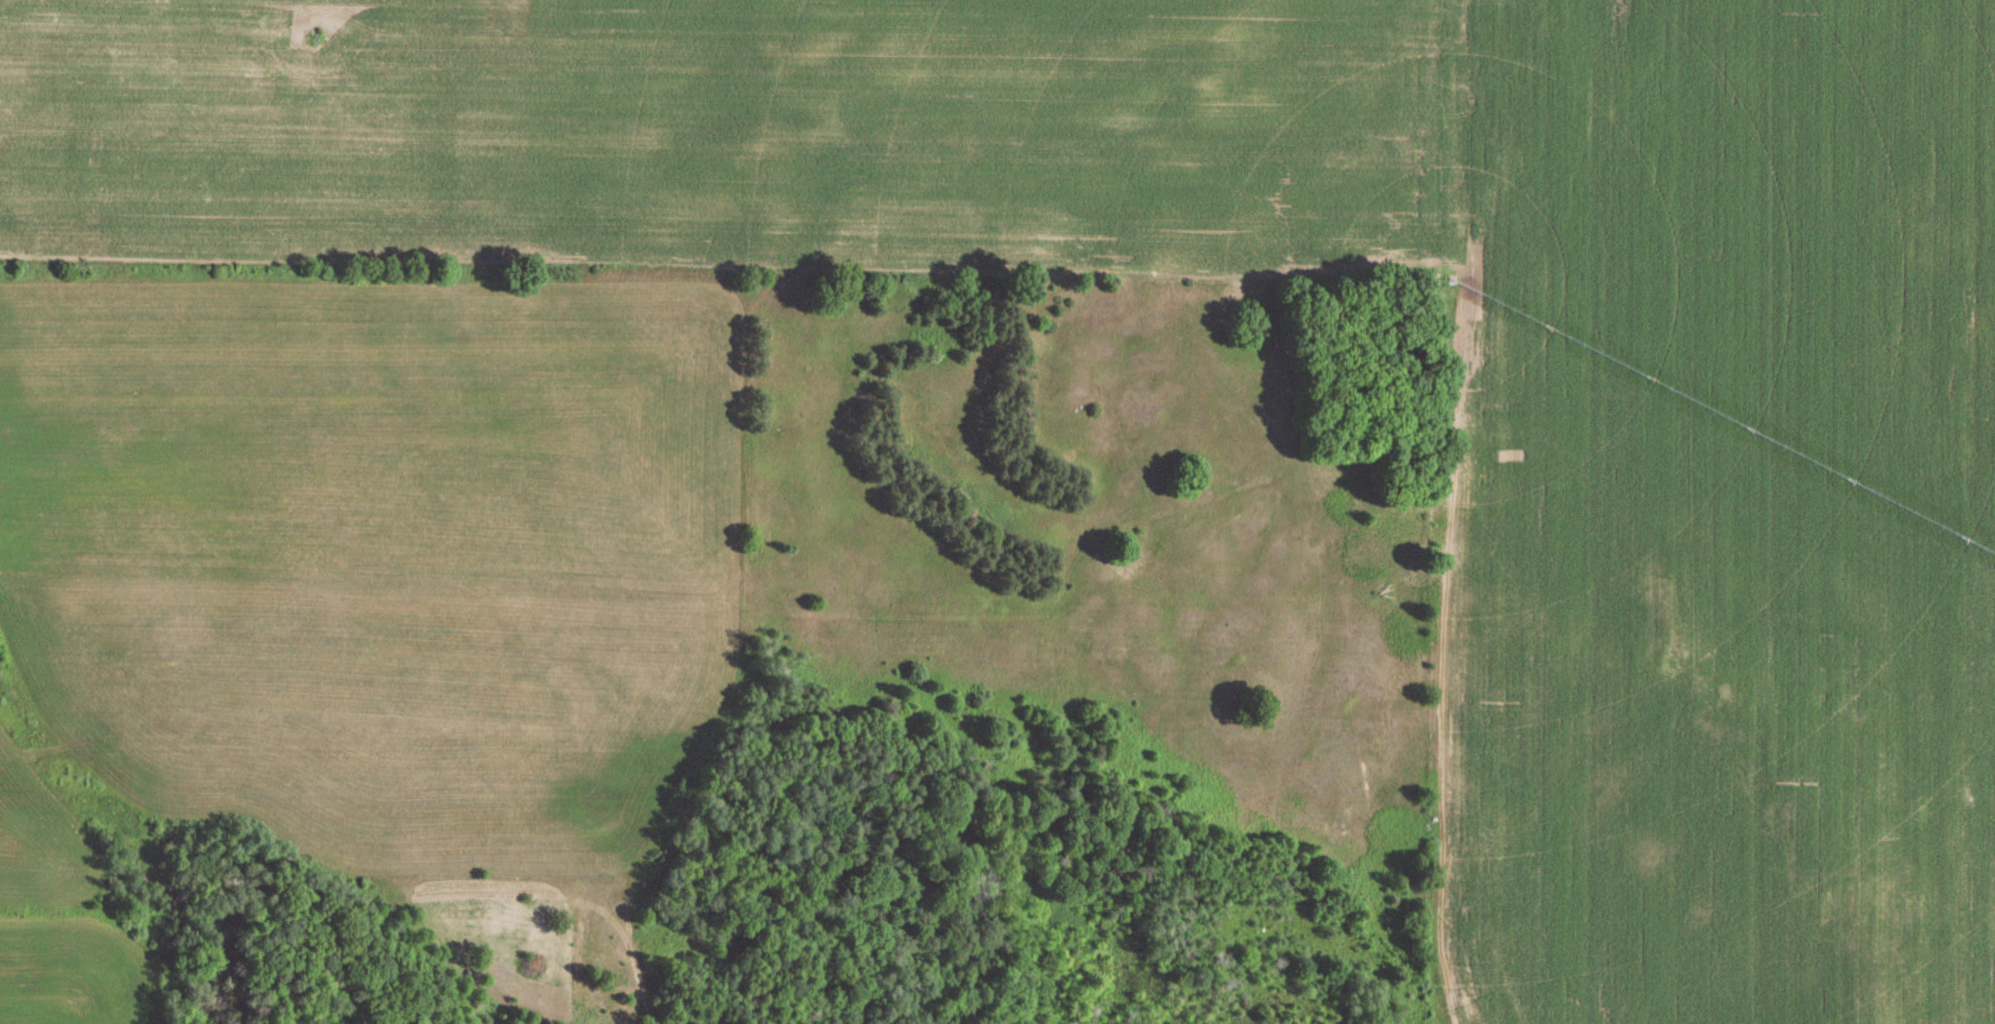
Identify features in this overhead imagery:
crop: (1718, 646)

